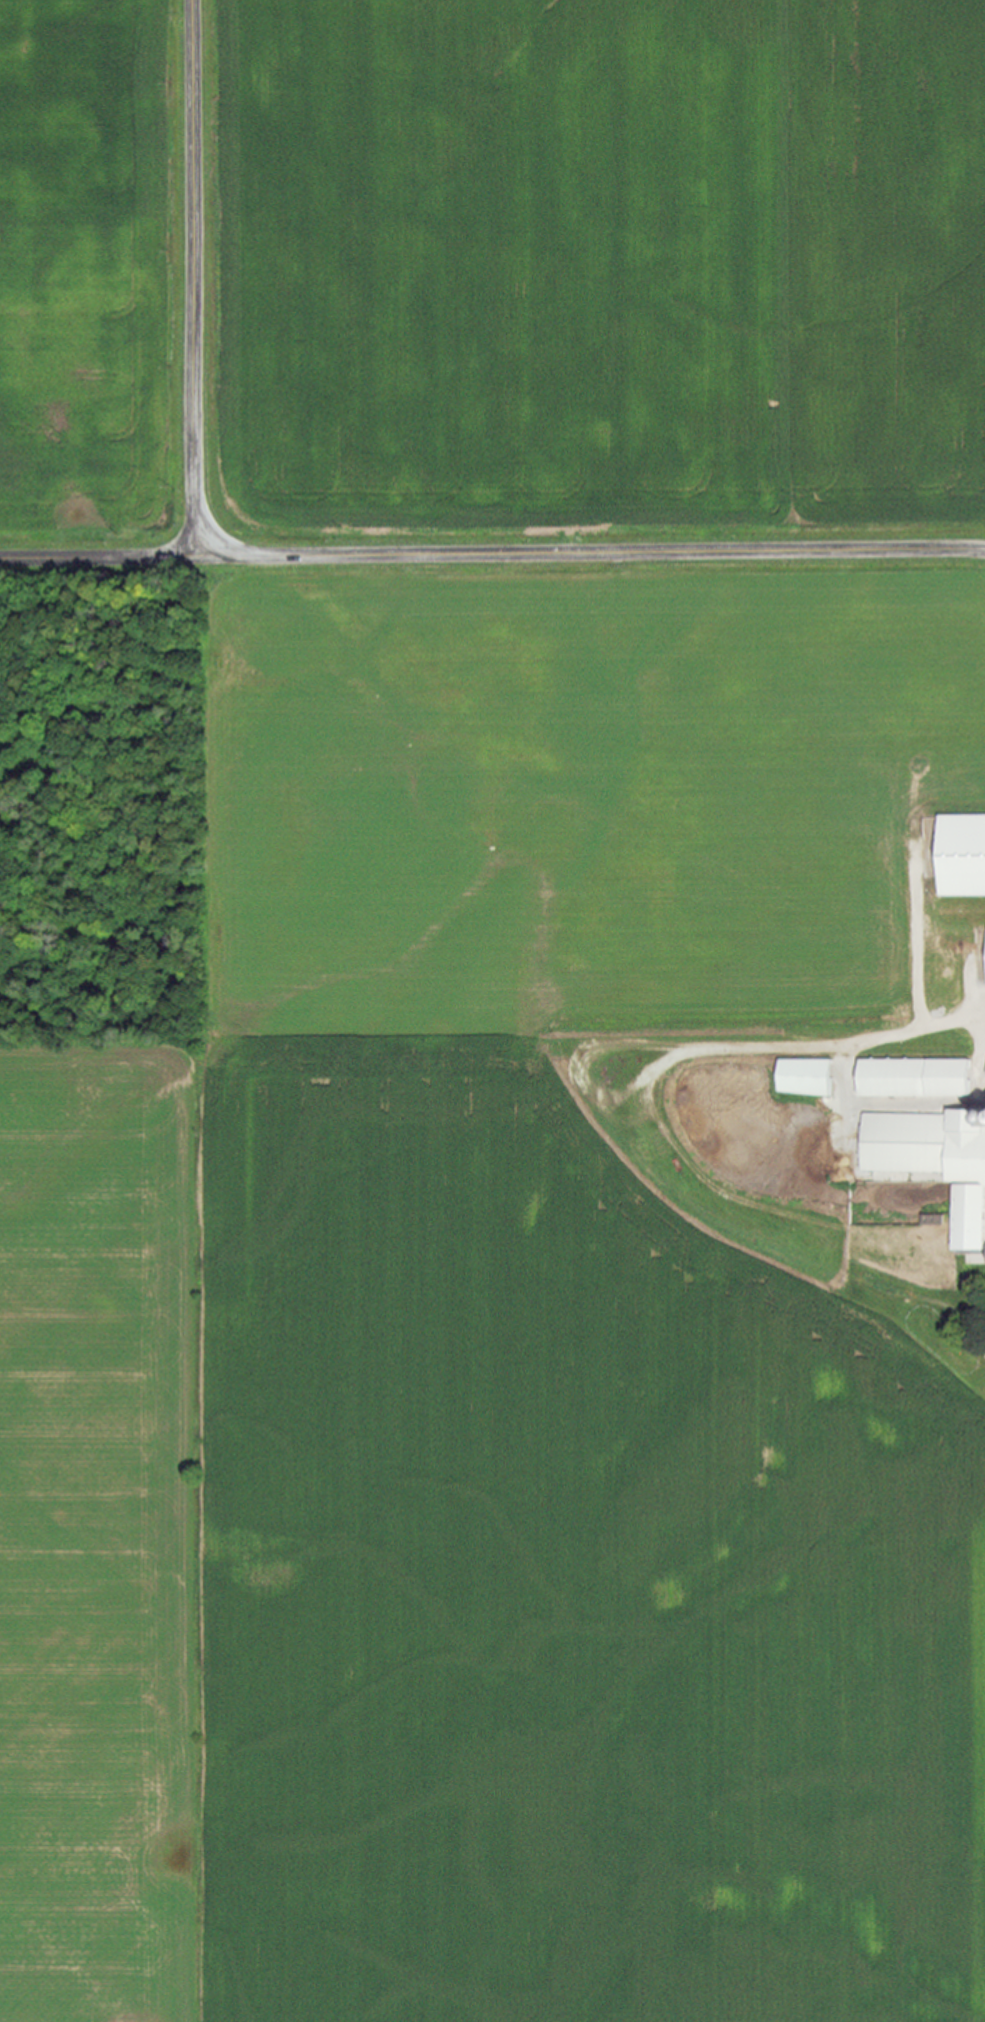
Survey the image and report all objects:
road: (194, 278)
road: (492, 553)
building: (959, 856)
building: (801, 1077)
building: (934, 1161)
building: (975, 1258)

